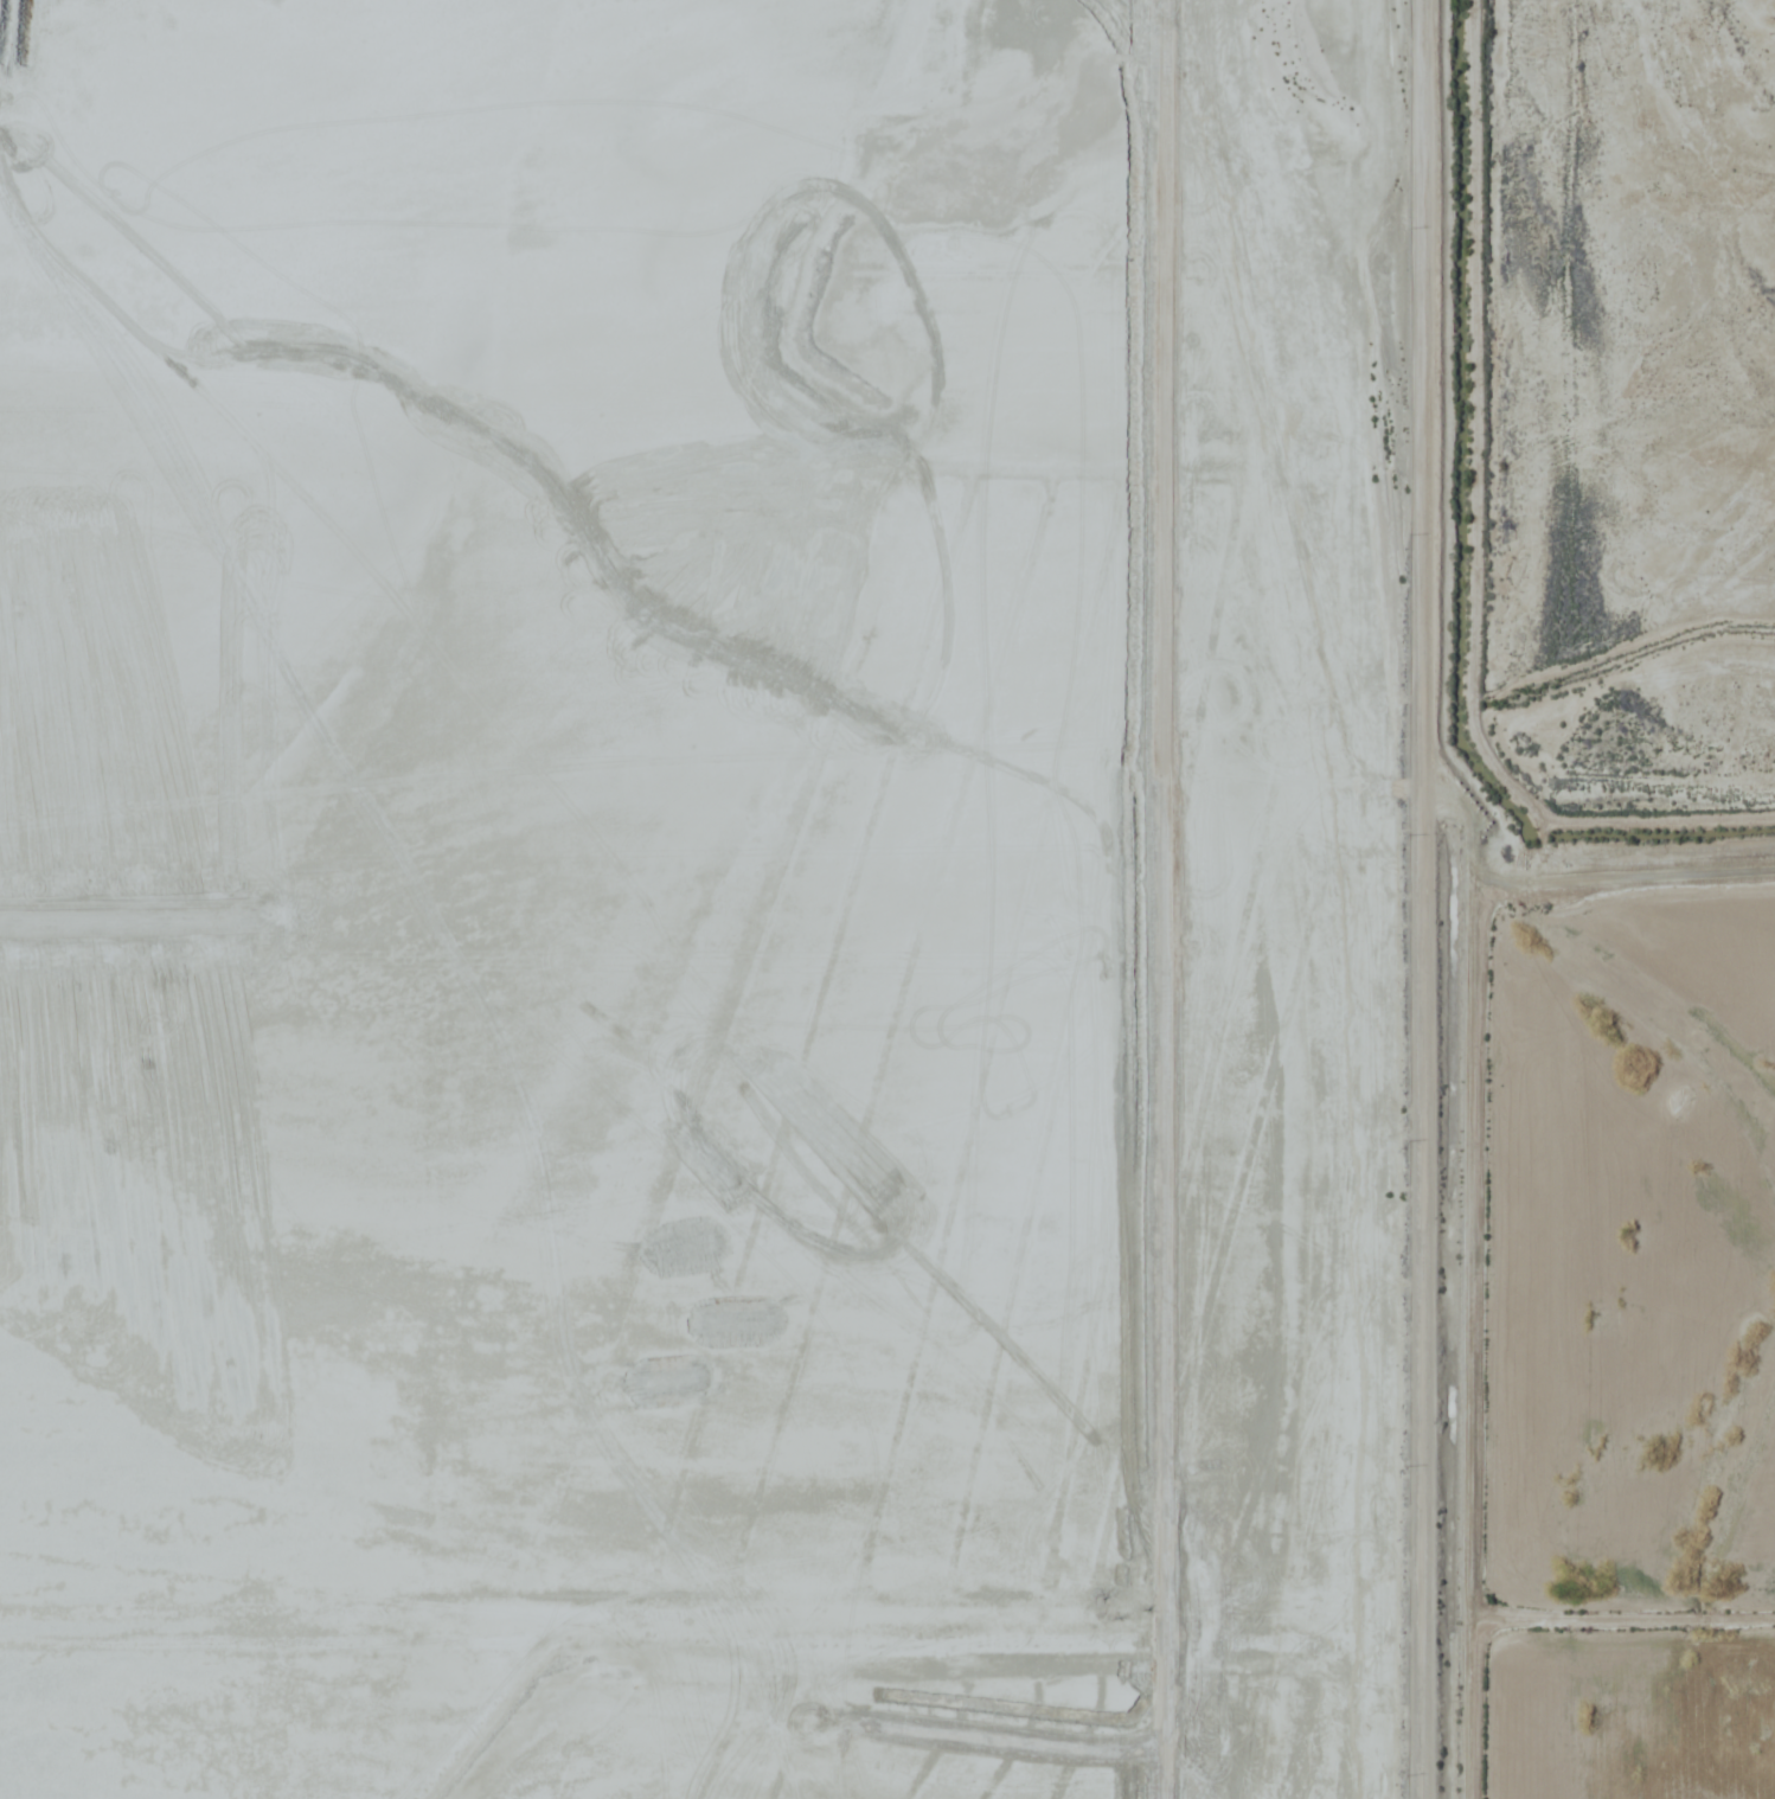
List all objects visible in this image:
parking lot: (1456, 796)
road: (1411, 899)

